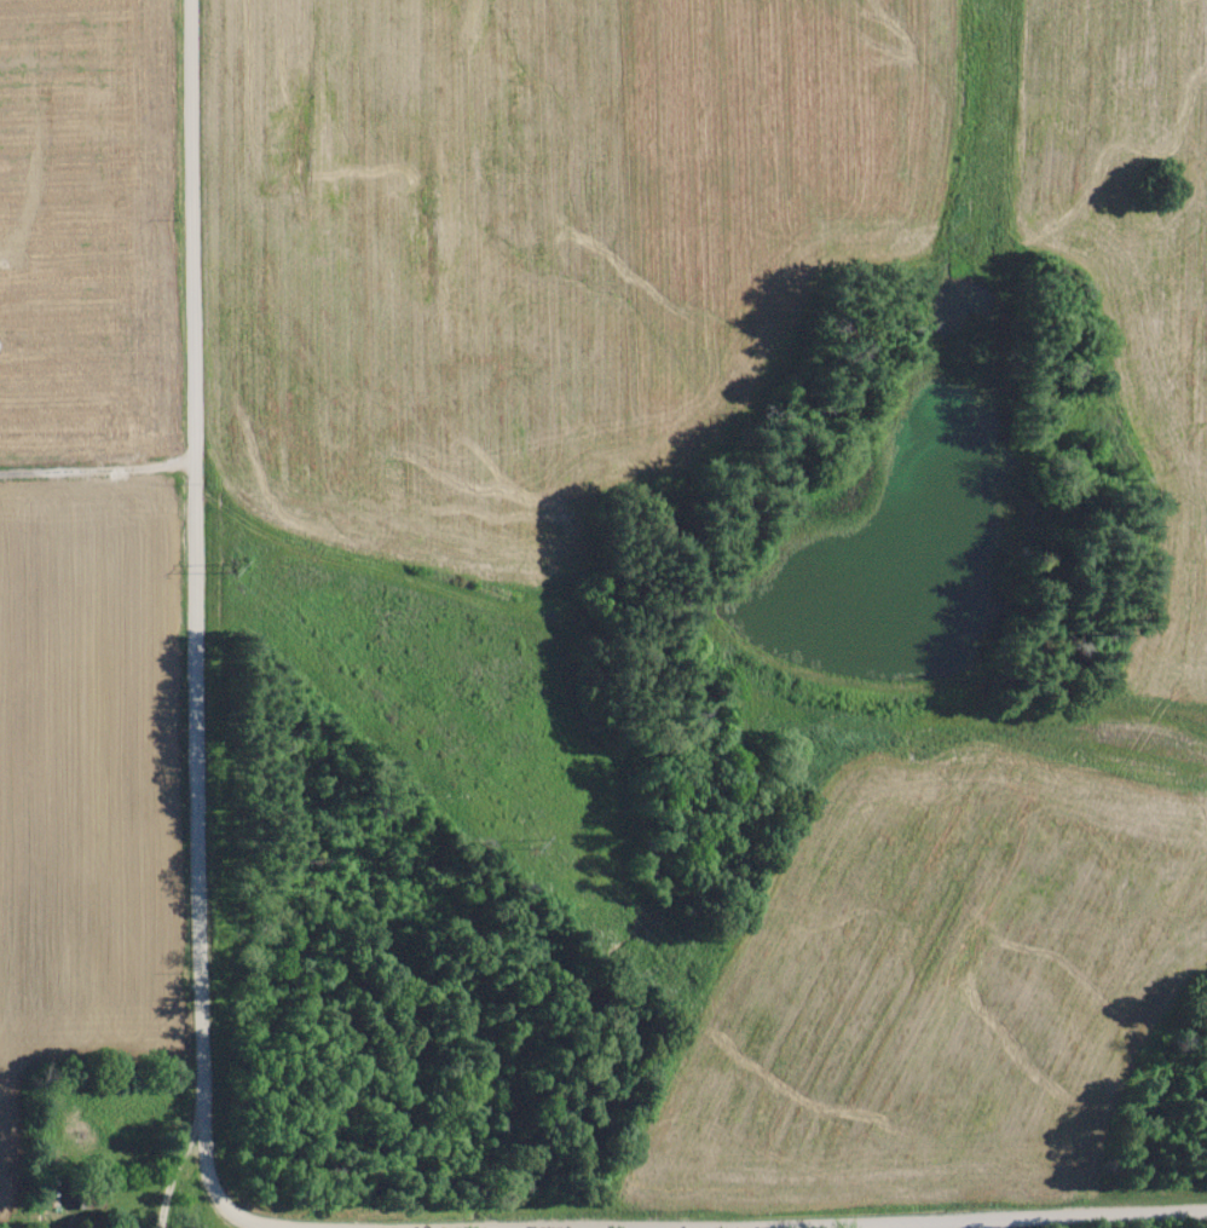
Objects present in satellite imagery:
road: (196, 619)
building: (89, 1198)
road: (727, 1224)

